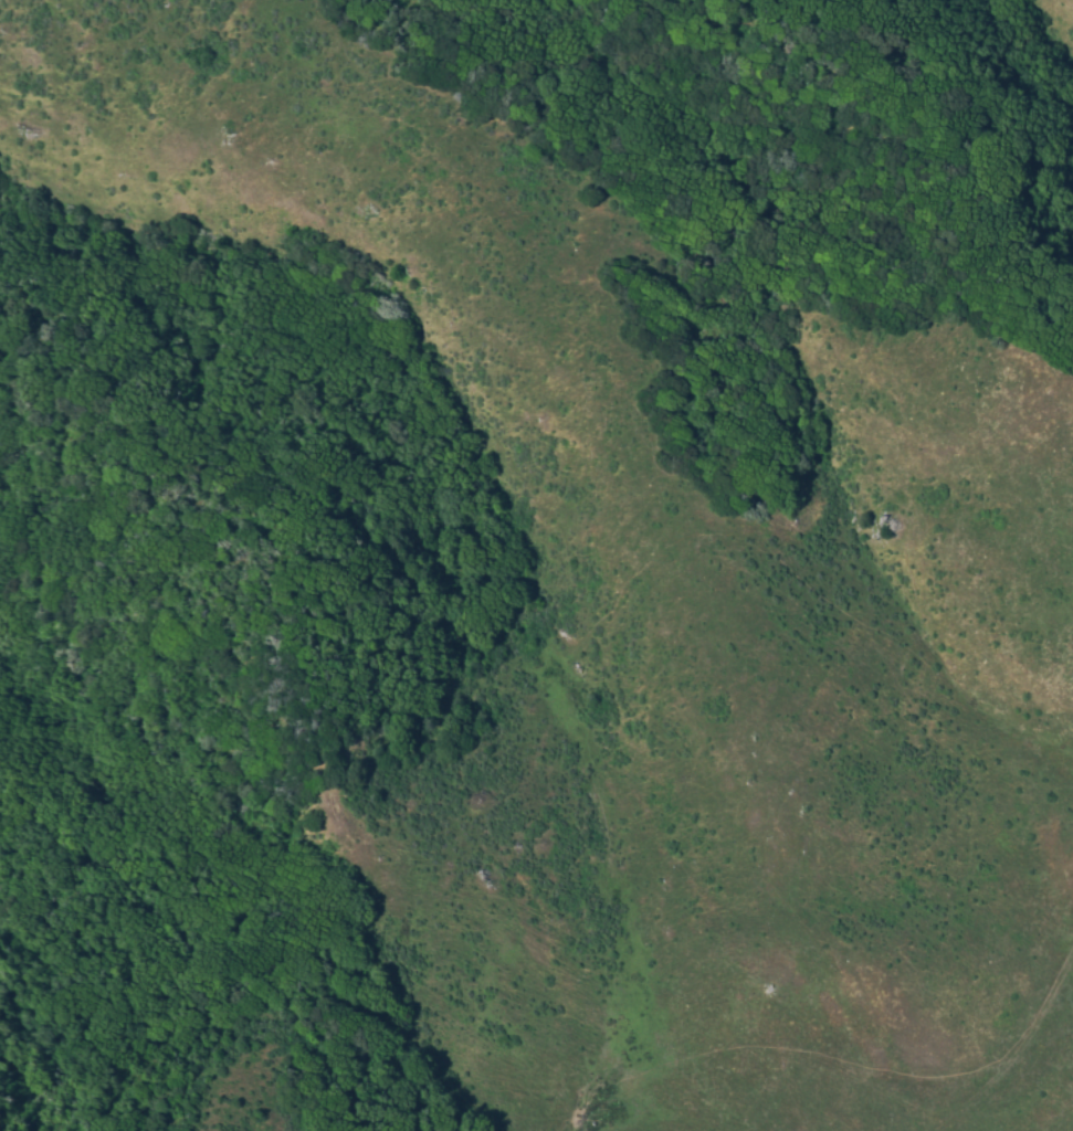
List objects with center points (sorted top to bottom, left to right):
road: (975, 1087)

